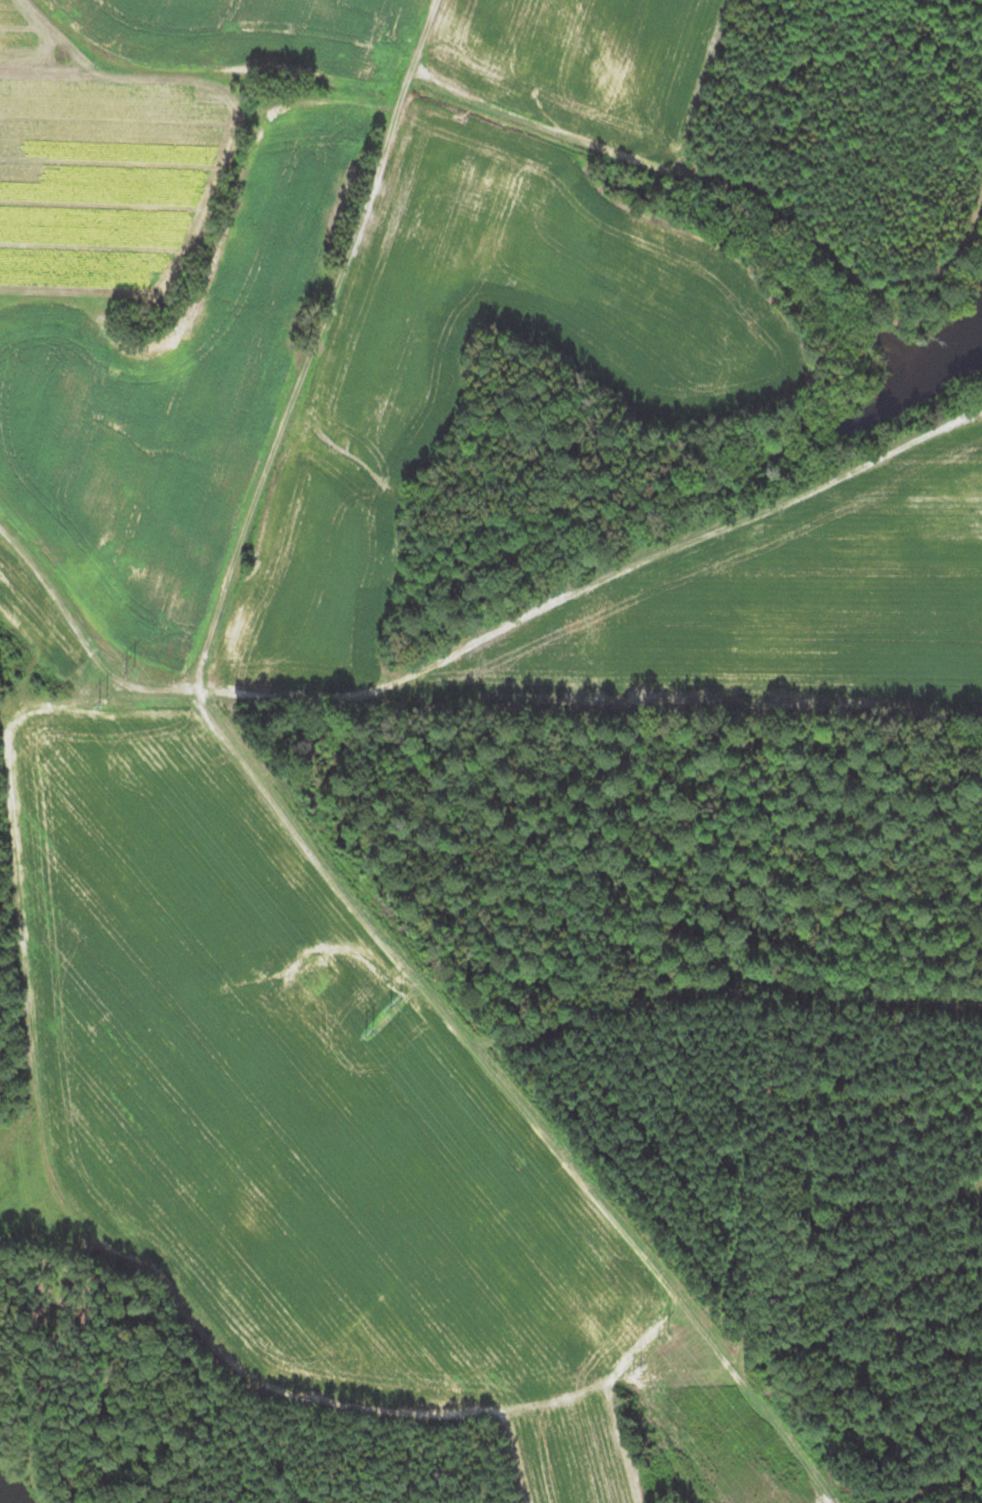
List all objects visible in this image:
power tower: (130, 666)
power tower: (397, 998)
power tower: (671, 1333)
road: (122, 1356)

